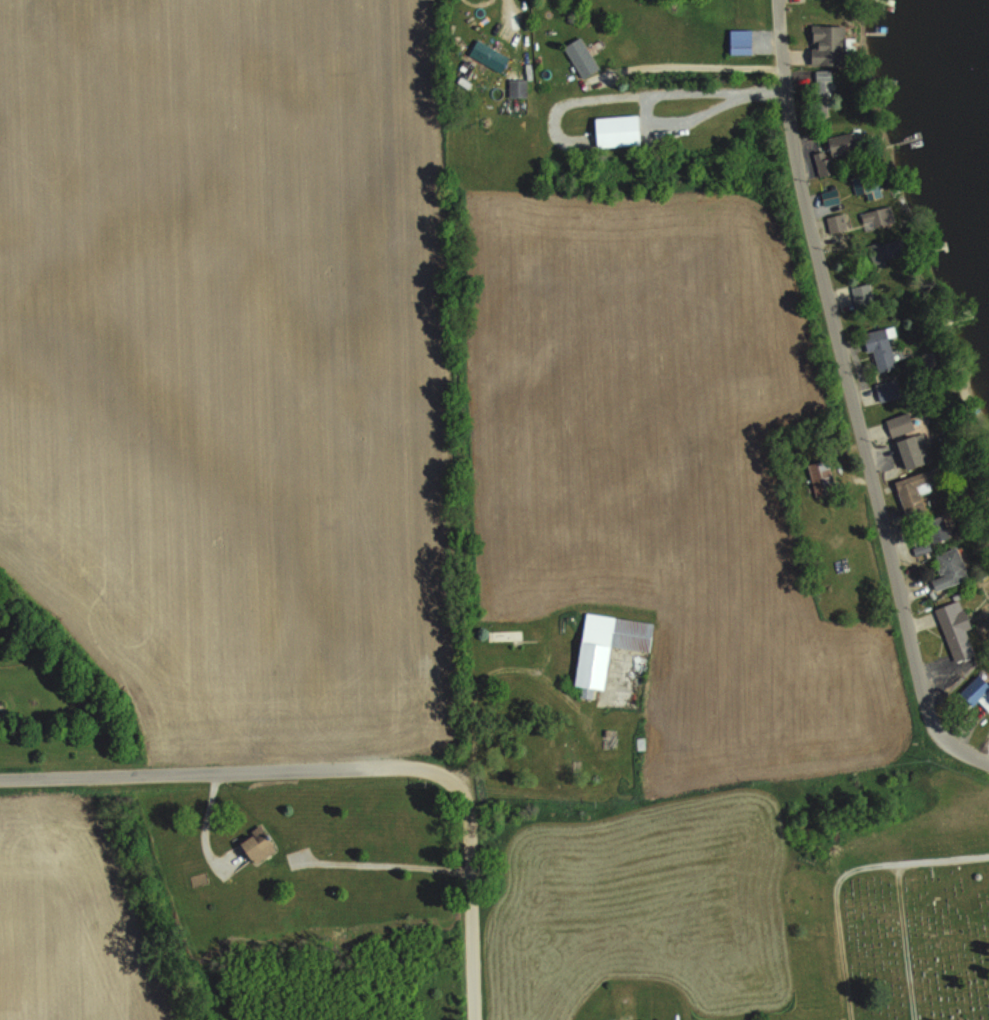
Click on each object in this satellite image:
road: (509, 10)
building: (829, 45)
building: (741, 46)
building: (489, 55)
building: (582, 57)
road: (690, 65)
building: (517, 88)
road: (654, 94)
building: (618, 130)
building: (835, 151)
building: (864, 184)
building: (830, 195)
building: (874, 218)
building: (837, 222)
building: (887, 251)
building: (863, 294)
building: (881, 349)
building: (888, 390)
road: (851, 399)
building: (899, 424)
building: (912, 452)
building: (822, 478)
building: (914, 492)
building: (939, 529)
building: (922, 547)
building: (953, 567)
building: (956, 629)
building: (510, 635)
building: (609, 646)
road: (479, 680)
building: (979, 692)
building: (569, 754)
road: (221, 769)
road: (206, 824)
building: (260, 846)
road: (379, 864)
road: (468, 890)
park: (916, 935)

